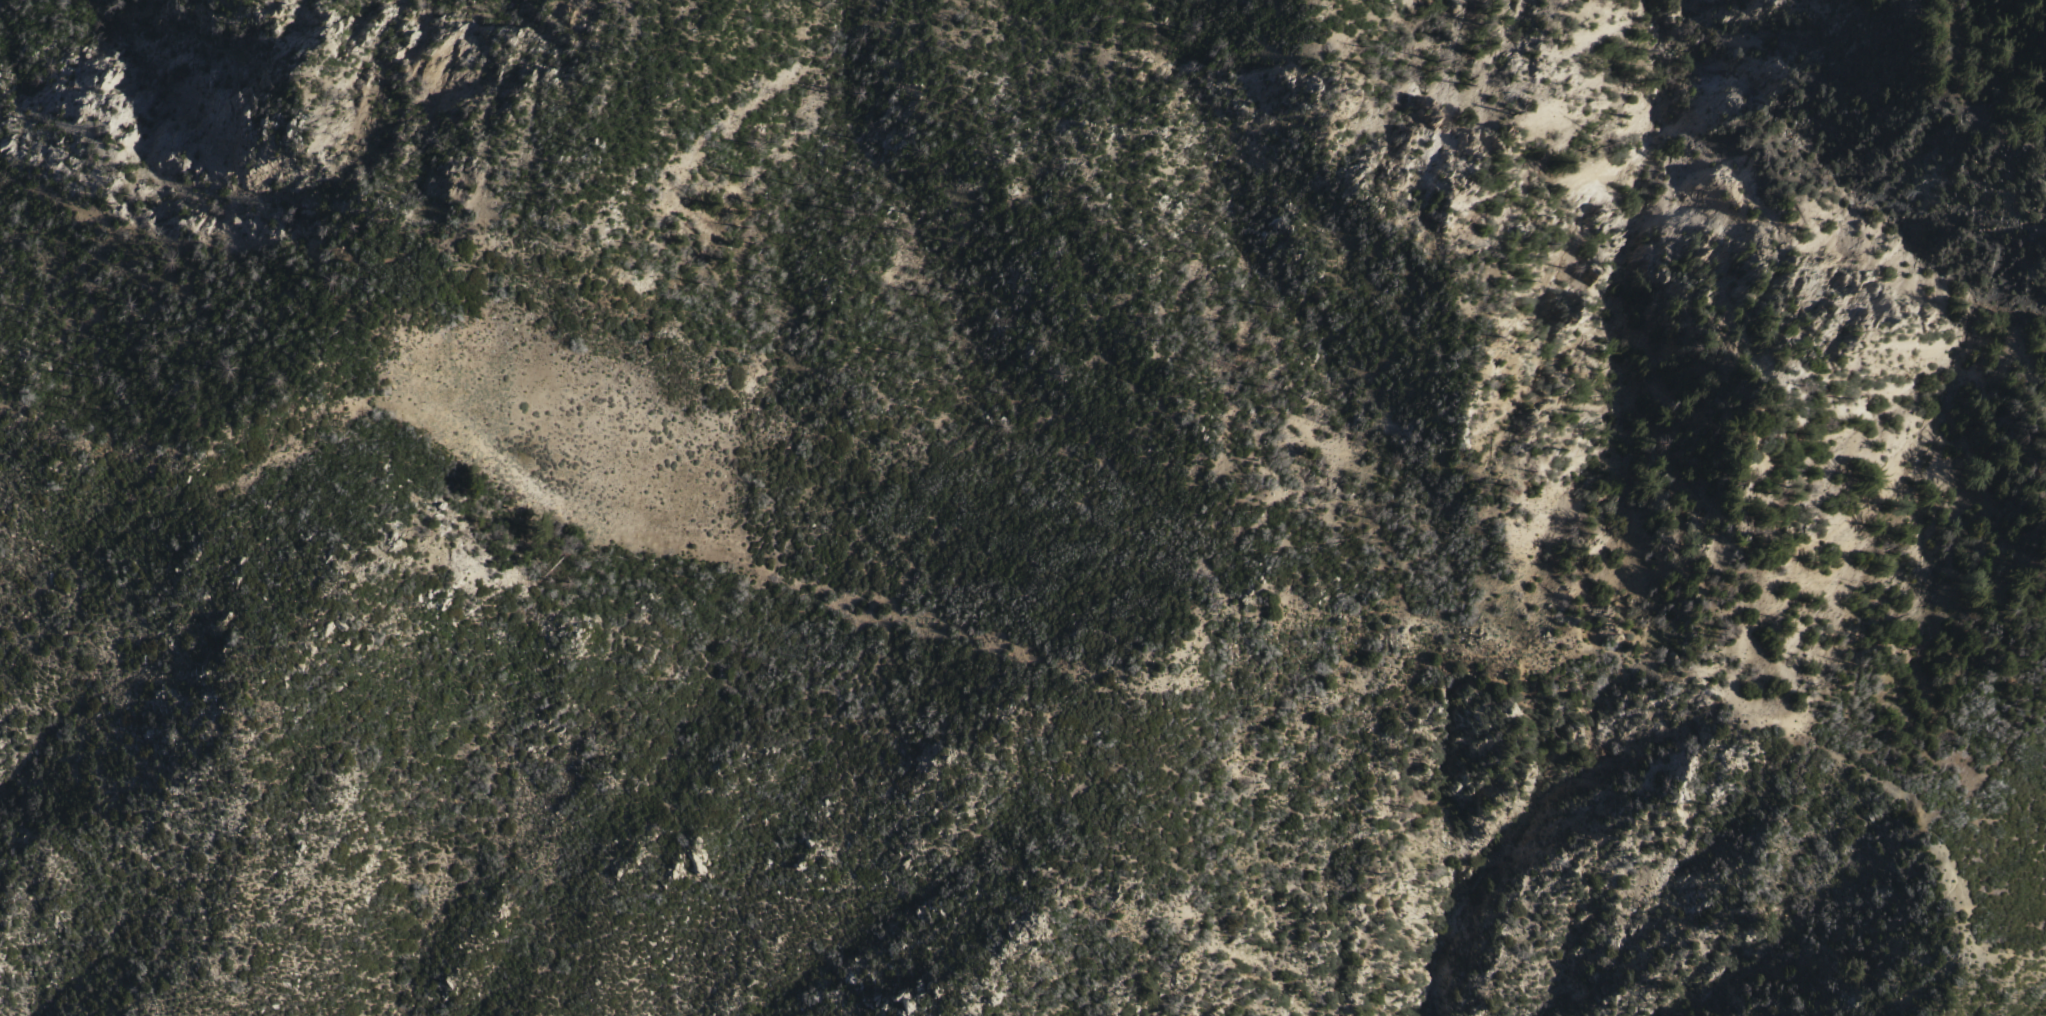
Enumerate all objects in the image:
road: (1844, 768)

